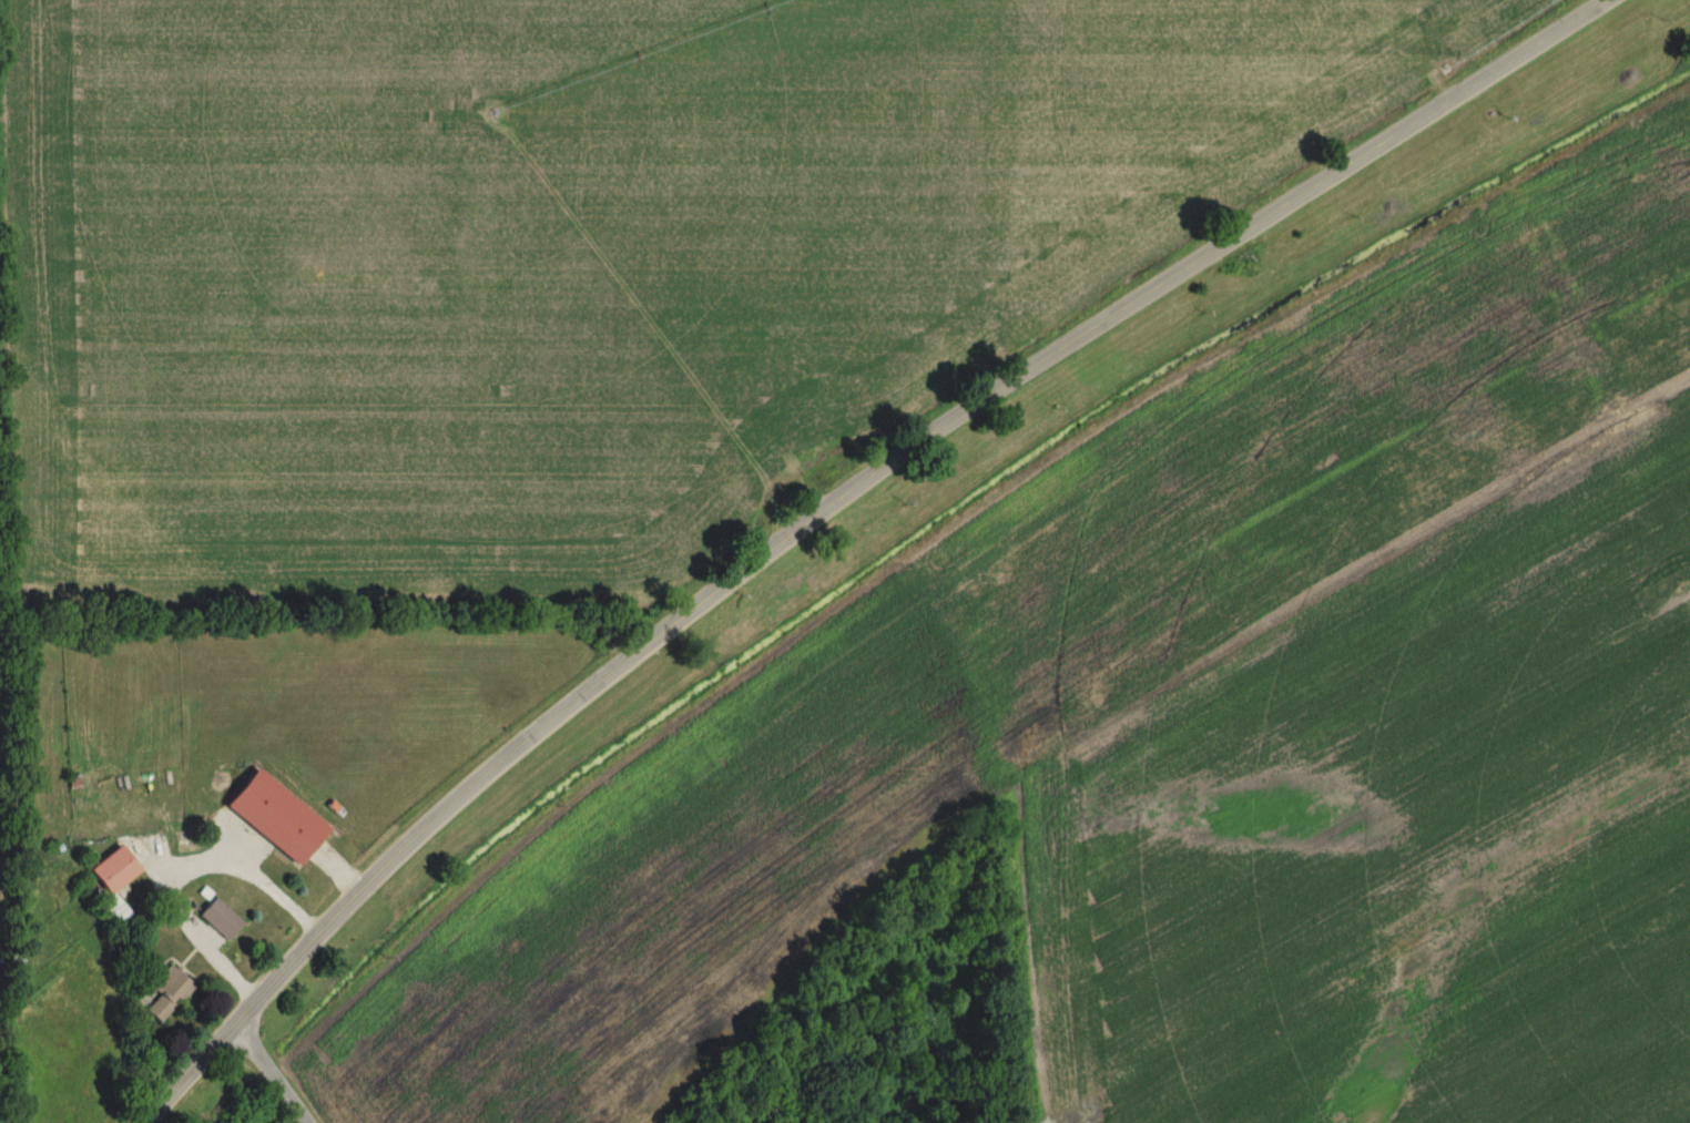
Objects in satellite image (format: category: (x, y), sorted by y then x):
building: (794, 392)
road: (847, 509)
building: (113, 880)
building: (220, 920)
building: (166, 993)
road: (271, 1074)

